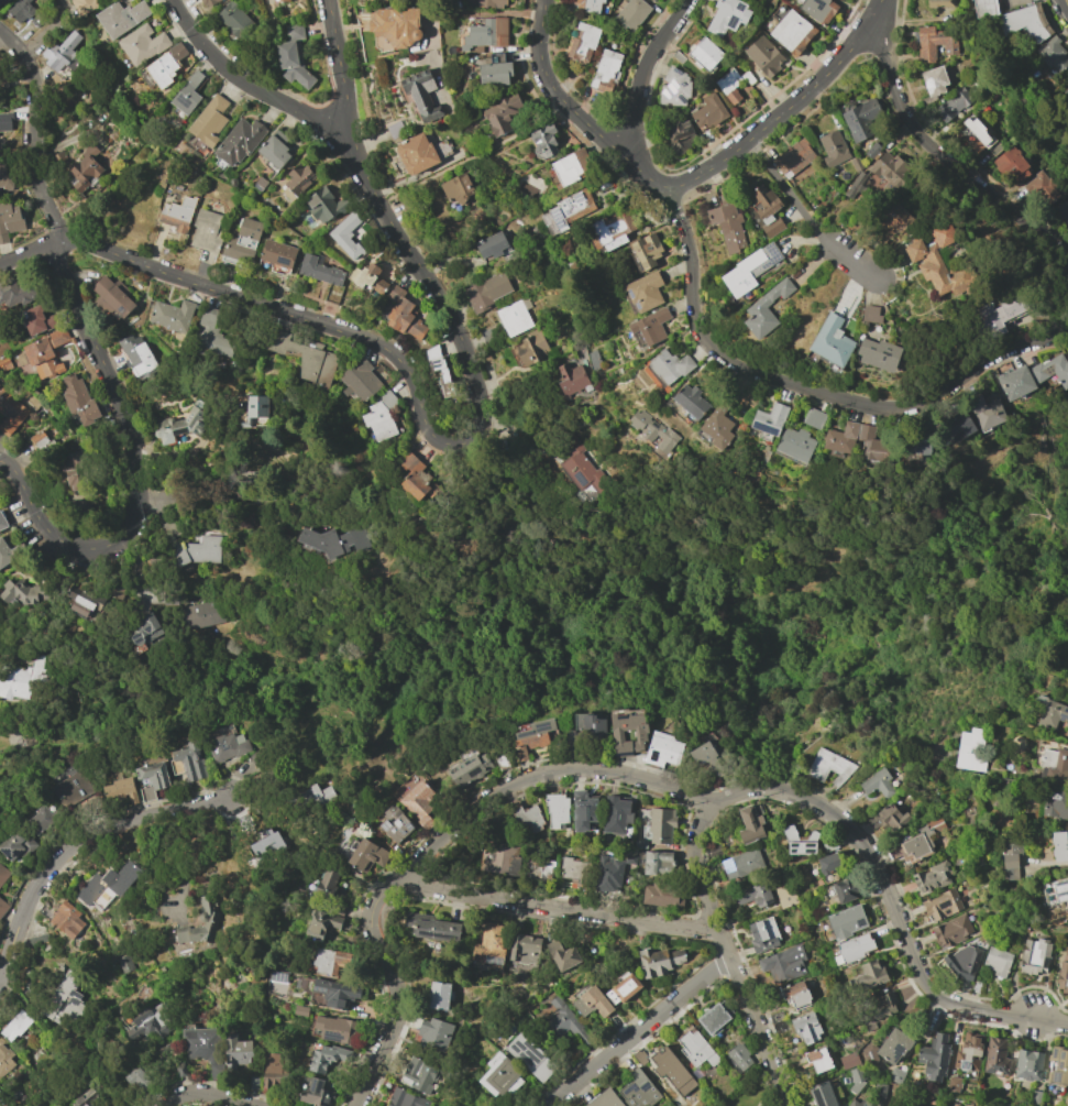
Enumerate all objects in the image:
building: (657, 0)
building: (2, 1)
building: (276, 1)
building: (206, 2)
building: (487, 3)
building: (943, 3)
building: (82, 6)
building: (587, 6)
building: (984, 8)
road: (1063, 8)
building: (20, 10)
building: (818, 10)
building: (631, 14)
building: (727, 17)
building: (121, 18)
building: (233, 19)
building: (1025, 22)
road: (186, 23)
building: (395, 28)
road: (49, 31)
building: (792, 32)
building: (486, 33)
road: (12, 42)
building: (582, 42)
building: (934, 43)
building: (143, 44)
building: (62, 53)
building: (1052, 53)
building: (705, 54)
road: (212, 55)
building: (293, 55)
building: (764, 56)
building: (166, 65)
road: (342, 66)
building: (606, 70)
road: (645, 73)
building: (495, 74)
building: (934, 81)
building: (729, 85)
building: (674, 88)
building: (187, 94)
building: (421, 95)
road: (284, 103)
road: (902, 105)
building: (953, 105)
road: (790, 109)
road: (574, 111)
building: (708, 112)
building: (502, 114)
building: (860, 119)
building: (209, 120)
building: (4, 122)
building: (973, 134)
building: (681, 135)
building: (543, 141)
building: (239, 142)
building: (833, 146)
road: (489, 149)
road: (33, 150)
building: (275, 150)
building: (416, 154)
building: (794, 158)
building: (572, 166)
building: (1011, 166)
building: (85, 169)
building: (888, 171)
building: (4, 178)
building: (299, 179)
building: (456, 188)
building: (1042, 189)
building: (1063, 209)
building: (764, 210)
building: (566, 211)
building: (177, 213)
road: (806, 215)
road: (1014, 215)
building: (10, 220)
building: (896, 220)
building: (726, 226)
building: (206, 230)
building: (613, 230)
building: (943, 234)
building: (346, 236)
building: (242, 241)
building: (492, 245)
building: (645, 252)
road: (30, 253)
building: (276, 255)
building: (751, 269)
building: (938, 269)
building: (319, 270)
building: (367, 280)
building: (487, 291)
building: (645, 292)
building: (16, 293)
building: (112, 296)
building: (767, 310)
building: (871, 314)
building: (404, 315)
building: (1000, 315)
building: (172, 316)
building: (514, 317)
building: (36, 320)
building: (651, 327)
building: (212, 335)
building: (833, 341)
road: (1023, 348)
building: (531, 349)
building: (47, 354)
building: (878, 354)
building: (137, 355)
building: (305, 358)
building: (669, 366)
building: (1053, 370)
road: (766, 375)
building: (571, 379)
building: (359, 382)
building: (1015, 382)
building: (691, 401)
building: (79, 402)
building: (256, 406)
road: (421, 410)
building: (987, 412)
building: (10, 413)
building: (771, 419)
building: (718, 424)
building: (178, 426)
building: (959, 426)
building: (654, 431)
building: (838, 441)
building: (796, 444)
building: (916, 450)
building: (73, 468)
road: (135, 468)
building: (581, 470)
building: (414, 477)
road: (158, 504)
building: (2, 522)
building: (337, 540)
building: (199, 551)
building: (9, 552)
building: (24, 593)
building: (81, 600)
building: (202, 614)
building: (23, 678)
building: (1049, 711)
building: (587, 725)
building: (627, 731)
building: (531, 736)
building: (227, 746)
building: (662, 748)
building: (970, 749)
building: (706, 757)
building: (189, 760)
building: (502, 762)
building: (828, 766)
building: (1057, 768)
building: (469, 769)
building: (151, 780)
building: (878, 784)
building: (70, 785)
building: (120, 787)
road: (749, 790)
building: (313, 796)
building: (1055, 801)
building: (419, 802)
building: (557, 809)
building: (583, 810)
building: (615, 814)
building: (888, 818)
building: (42, 819)
building: (527, 819)
building: (395, 823)
building: (750, 824)
building: (661, 825)
building: (791, 837)
building: (916, 842)
building: (15, 845)
building: (266, 845)
building: (1059, 845)
road: (78, 846)
road: (434, 846)
building: (367, 855)
building: (1010, 855)
building: (500, 858)
building: (657, 862)
building: (828, 863)
building: (741, 864)
building: (539, 867)
building: (610, 870)
building: (575, 872)
building: (2, 874)
building: (931, 877)
building: (326, 885)
building: (846, 889)
building: (1060, 890)
building: (96, 893)
building: (661, 895)
building: (753, 895)
building: (942, 904)
building: (2, 907)
road: (559, 908)
building: (208, 919)
building: (67, 920)
building: (846, 921)
building: (320, 923)
building: (431, 927)
building: (951, 930)
building: (762, 933)
building: (36, 939)
road: (907, 941)
building: (489, 945)
building: (524, 948)
building: (855, 948)
building: (561, 954)
road: (729, 955)
building: (676, 956)
building: (1034, 956)
building: (330, 961)
building: (652, 962)
building: (962, 962)
building: (997, 962)
building: (125, 964)
building: (783, 964)
building: (870, 974)
building: (277, 975)
building: (1063, 976)
building: (976, 986)
building: (623, 987)
building: (335, 993)
building: (438, 995)
building: (795, 995)
building: (63, 998)
building: (591, 1001)
building: (300, 1010)
building: (880, 1010)
building: (713, 1018)
building: (564, 1023)
building: (147, 1025)
building: (14, 1026)
building: (805, 1028)
building: (335, 1029)
road: (639, 1029)
building: (433, 1033)
building: (893, 1045)
building: (205, 1048)
building: (695, 1048)
building: (236, 1051)
building: (968, 1052)
building: (869, 1054)
building: (530, 1056)
building: (638, 1056)
building: (739, 1056)
building: (934, 1056)
building: (995, 1056)
building: (327, 1058)
building: (4, 1059)
building: (818, 1059)
building: (1027, 1064)
building: (851, 1065)
building: (1057, 1065)
building: (273, 1071)
building: (671, 1071)
building: (418, 1074)
building: (695, 1074)
building: (500, 1075)
building: (895, 1075)
building: (137, 1078)
building: (253, 1083)
building: (953, 1084)
park: (177, 1088)
building: (638, 1089)
building: (313, 1092)
building: (0, 1093)
road: (207, 1094)
building: (821, 1094)
building: (1035, 1097)
building: (86, 1098)
building: (405, 1098)
building: (602, 1099)
building: (1065, 1100)
building: (856, 1103)
building: (1006, 1104)
building: (914, 1105)

